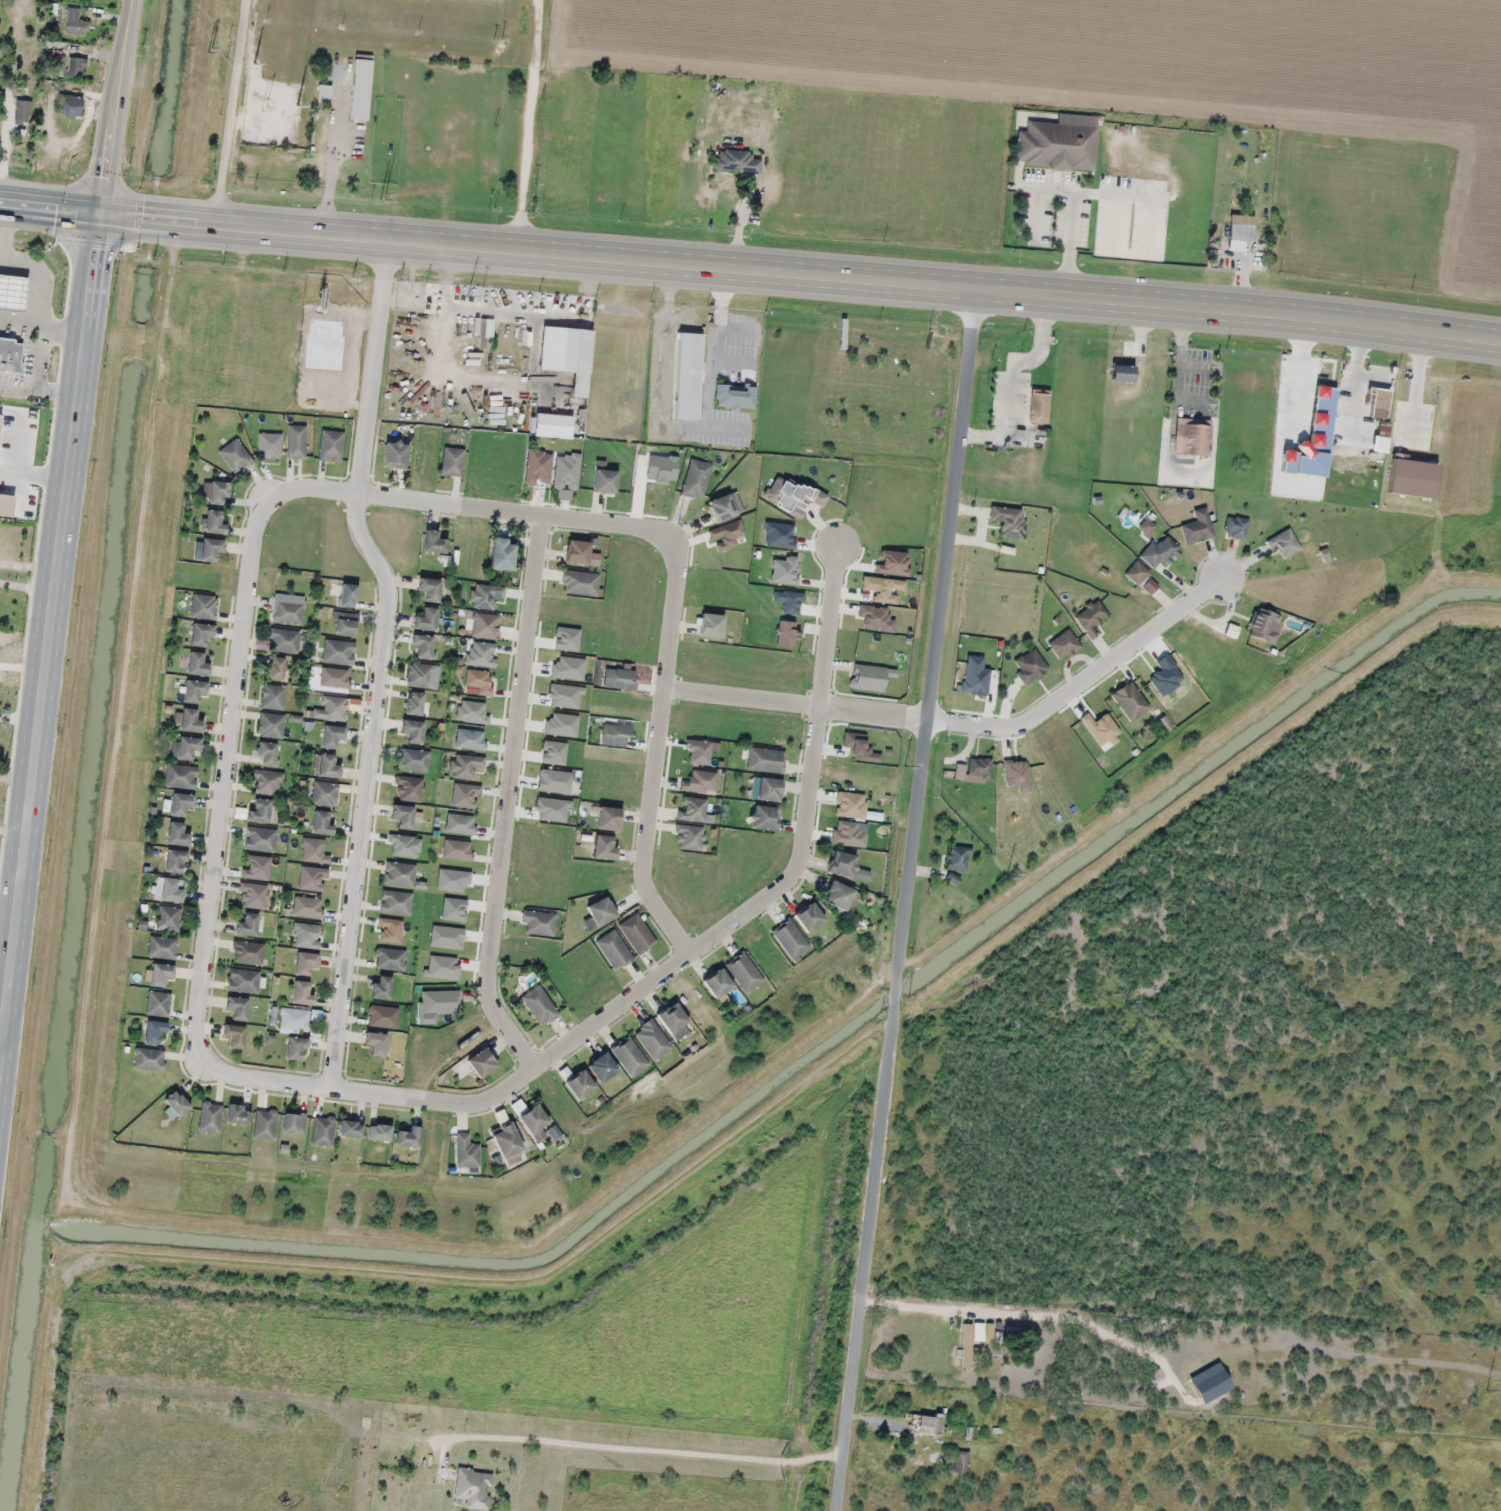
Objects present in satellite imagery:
building: (75, 23)
building: (75, 68)
building: (359, 89)
building: (322, 93)
building: (69, 106)
building: (22, 112)
road: (123, 112)
road: (231, 113)
building: (1056, 146)
building: (736, 162)
traffic signals: (111, 216)
building: (1240, 227)
road: (750, 269)
building: (11, 292)
building: (574, 351)
building: (10, 355)
road: (373, 371)
building: (686, 377)
building: (734, 396)
building: (1037, 407)
building: (1192, 437)
building: (295, 441)
building: (269, 445)
building: (330, 445)
building: (393, 454)
building: (234, 456)
building: (451, 461)
building: (696, 479)
building: (603, 480)
building: (217, 492)
building: (795, 494)
building: (720, 507)
building: (213, 521)
building: (1197, 527)
building: (1235, 527)
building: (432, 541)
building: (1283, 543)
building: (209, 548)
building: (575, 551)
building: (1159, 552)
building: (500, 553)
building: (1141, 578)
building: (579, 582)
building: (428, 589)
building: (346, 595)
building: (203, 606)
building: (287, 612)
building: (1090, 617)
building: (424, 619)
building: (345, 623)
building: (709, 624)
building: (1264, 626)
road: (244, 627)
building: (199, 633)
building: (283, 640)
building: (1063, 644)
building: (420, 646)
building: (338, 652)
building: (195, 664)
building: (1029, 665)
building: (274, 668)
road: (55, 672)
building: (419, 675)
building: (193, 690)
building: (272, 697)
building: (1129, 701)
building: (413, 703)
building: (189, 721)
building: (270, 725)
road: (977, 727)
building: (411, 731)
building: (330, 735)
building: (184, 747)
building: (264, 754)
building: (413, 760)
building: (765, 760)
building: (326, 766)
building: (978, 767)
building: (180, 776)
road: (816, 777)
building: (765, 789)
building: (324, 793)
road: (365, 795)
road: (512, 801)
building: (179, 804)
building: (258, 810)
building: (401, 815)
building: (763, 817)
building: (606, 818)
building: (320, 823)
building: (176, 834)
building: (259, 839)
building: (603, 846)
building: (956, 858)
building: (173, 861)
building: (845, 866)
building: (399, 874)
building: (169, 890)
building: (837, 895)
road: (915, 899)
building: (395, 902)
building: (599, 911)
building: (807, 917)
building: (167, 918)
building: (538, 922)
building: (248, 925)
building: (636, 933)
building: (789, 939)
building: (161, 947)
building: (613, 950)
building: (389, 959)
building: (303, 963)
building: (743, 972)
building: (159, 974)
building: (243, 981)
building: (715, 983)
building: (380, 987)
building: (300, 993)
building: (439, 1002)
building: (157, 1004)
building: (538, 1006)
building: (234, 1009)
building: (382, 1017)
building: (293, 1019)
building: (673, 1021)
building: (153, 1033)
building: (232, 1036)
building: (651, 1039)
building: (374, 1043)
building: (294, 1049)
road: (3, 1056)
building: (629, 1057)
building: (148, 1059)
building: (479, 1063)
building: (600, 1067)
building: (578, 1085)
building: (175, 1104)
building: (237, 1115)
building: (209, 1118)
building: (533, 1122)
building: (292, 1123)
building: (264, 1125)
building: (349, 1129)
building: (322, 1131)
building: (377, 1133)
building: (406, 1137)
building: (505, 1141)
building: (465, 1152)
building: (989, 1331)
building: (925, 1425)
road: (648, 1448)
building: (959, 1462)
building: (473, 1488)

